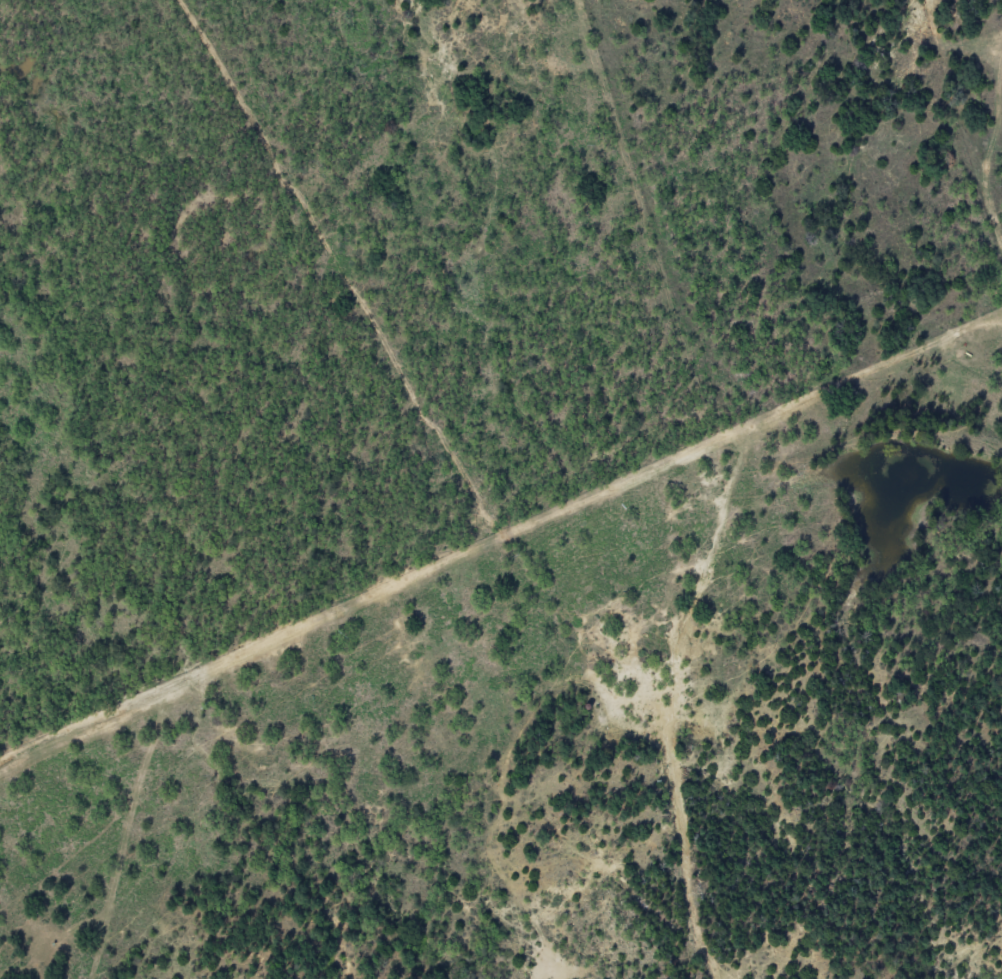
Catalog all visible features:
road: (724, 38)
road: (140, 81)
road: (699, 578)

